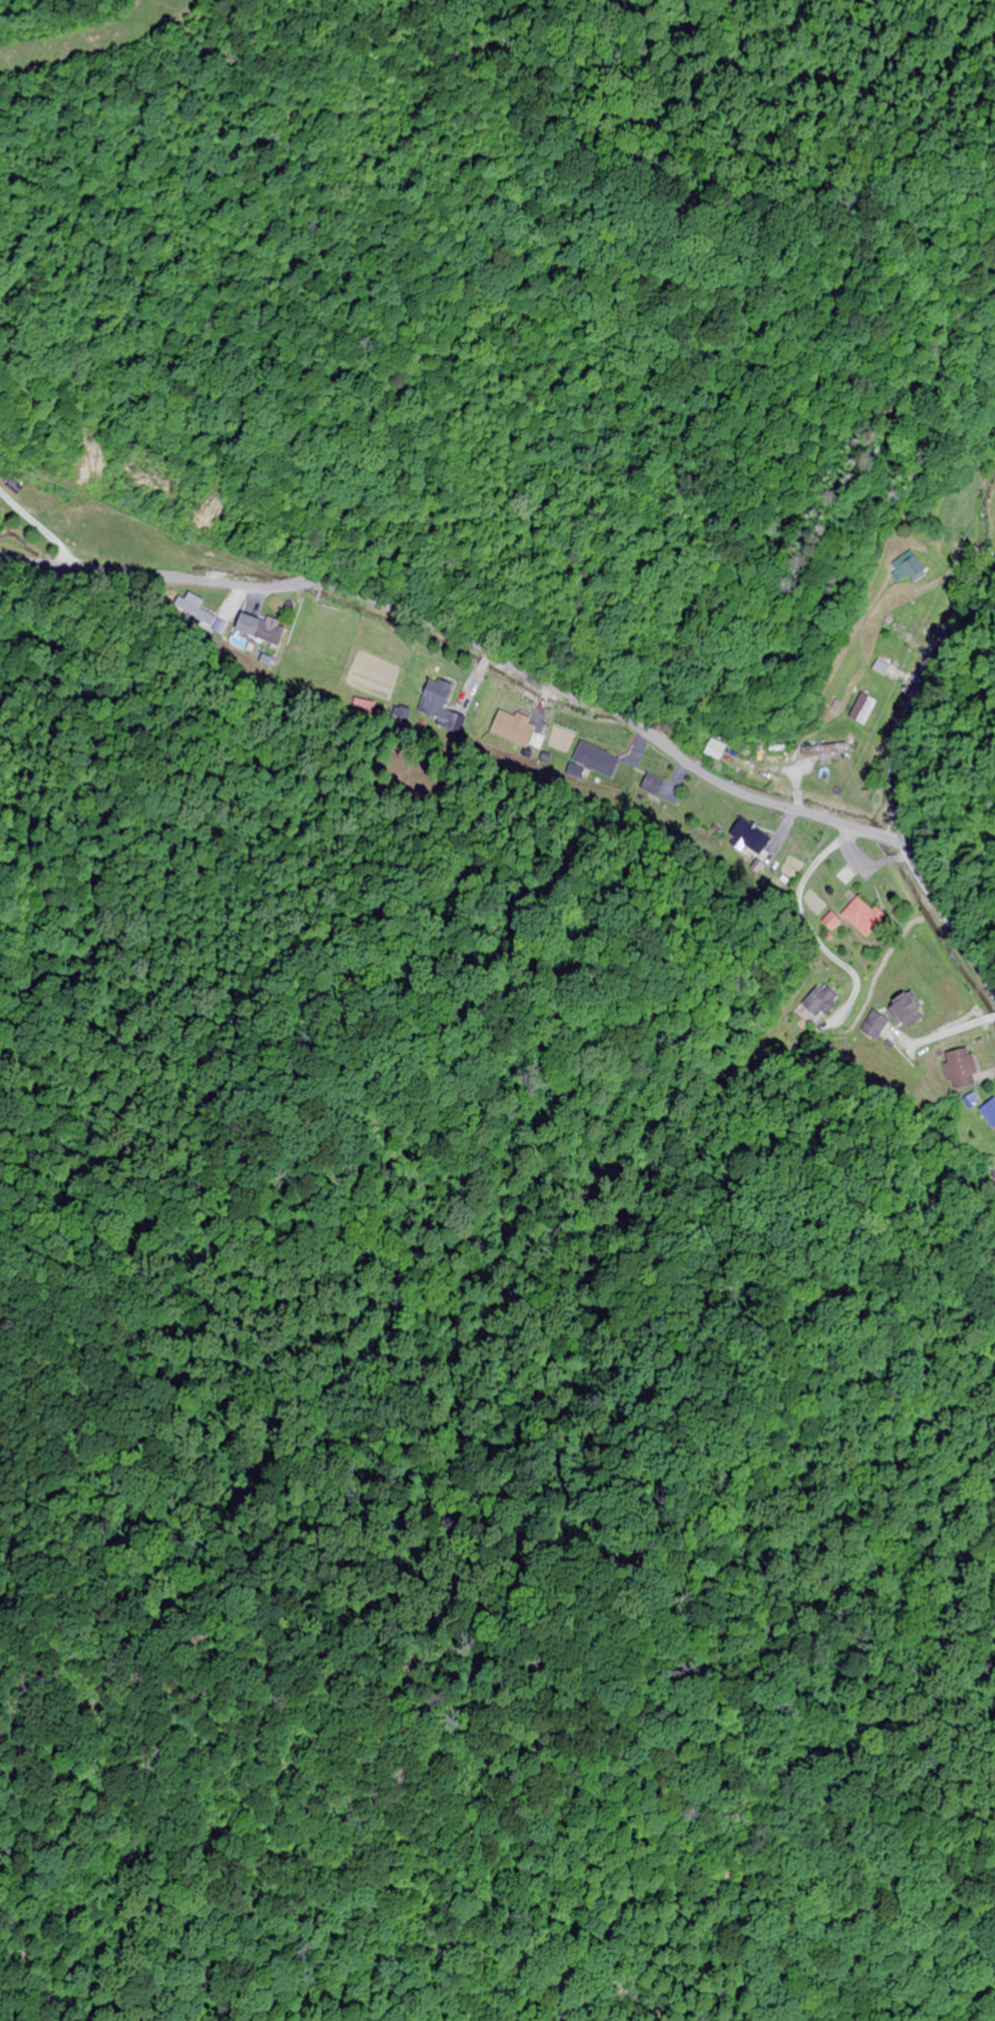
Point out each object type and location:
building: (907, 570)
building: (263, 630)
road: (468, 665)
building: (434, 697)
building: (861, 710)
building: (516, 729)
building: (822, 750)
road: (898, 772)
building: (860, 916)
building: (818, 1002)

